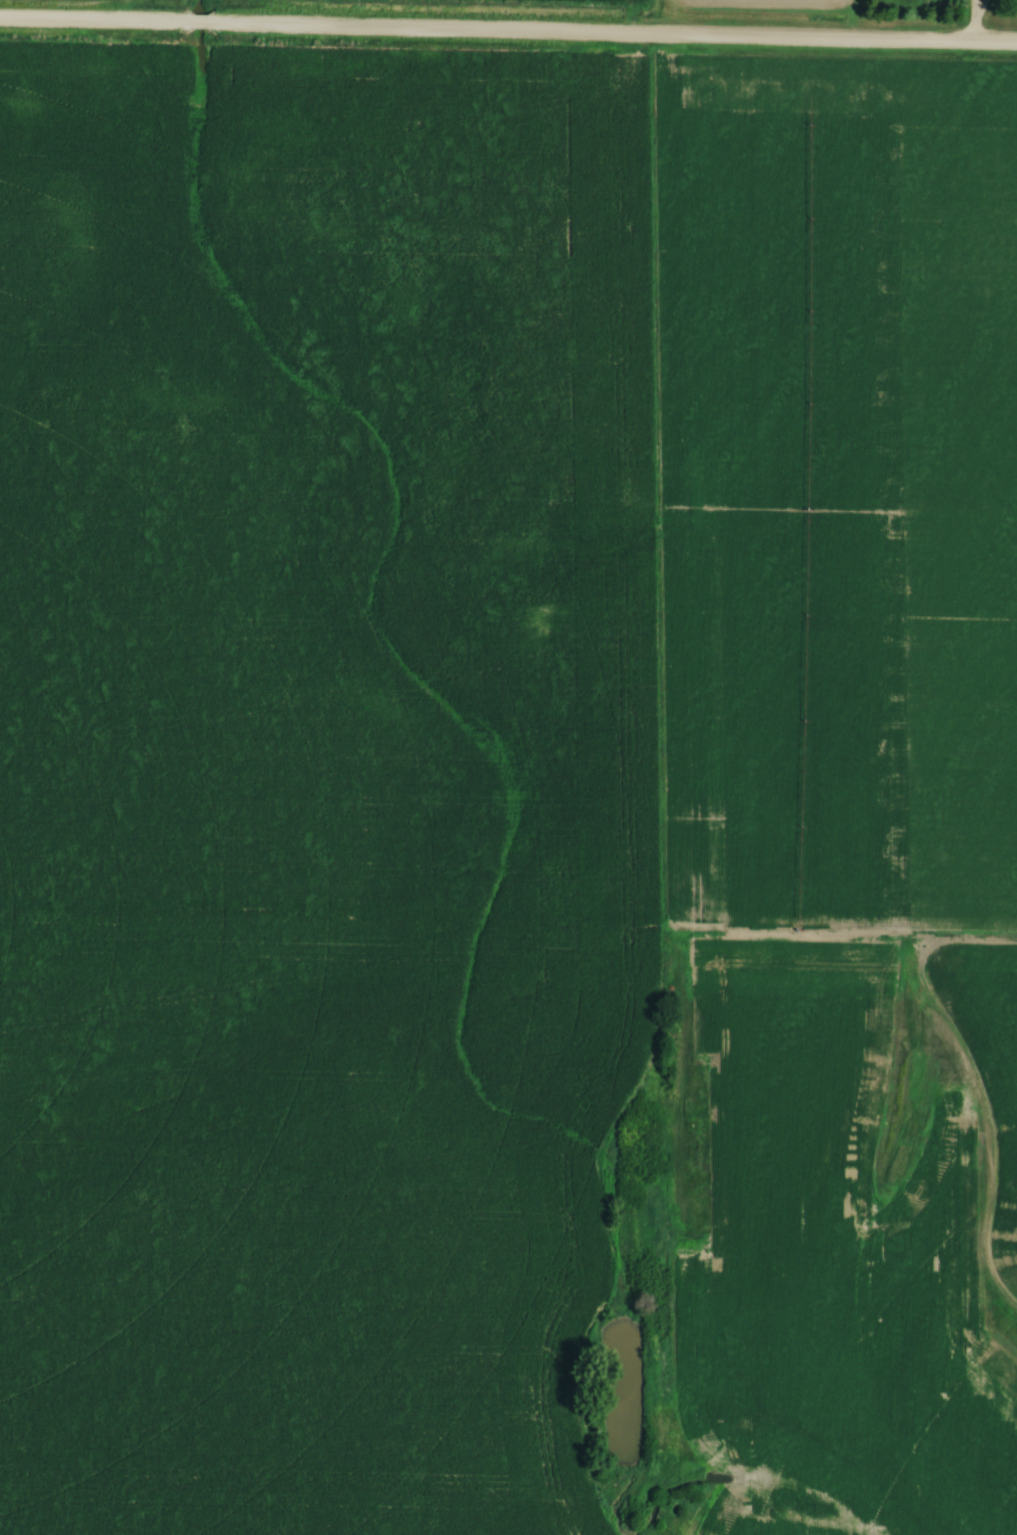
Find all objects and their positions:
road: (508, 36)

